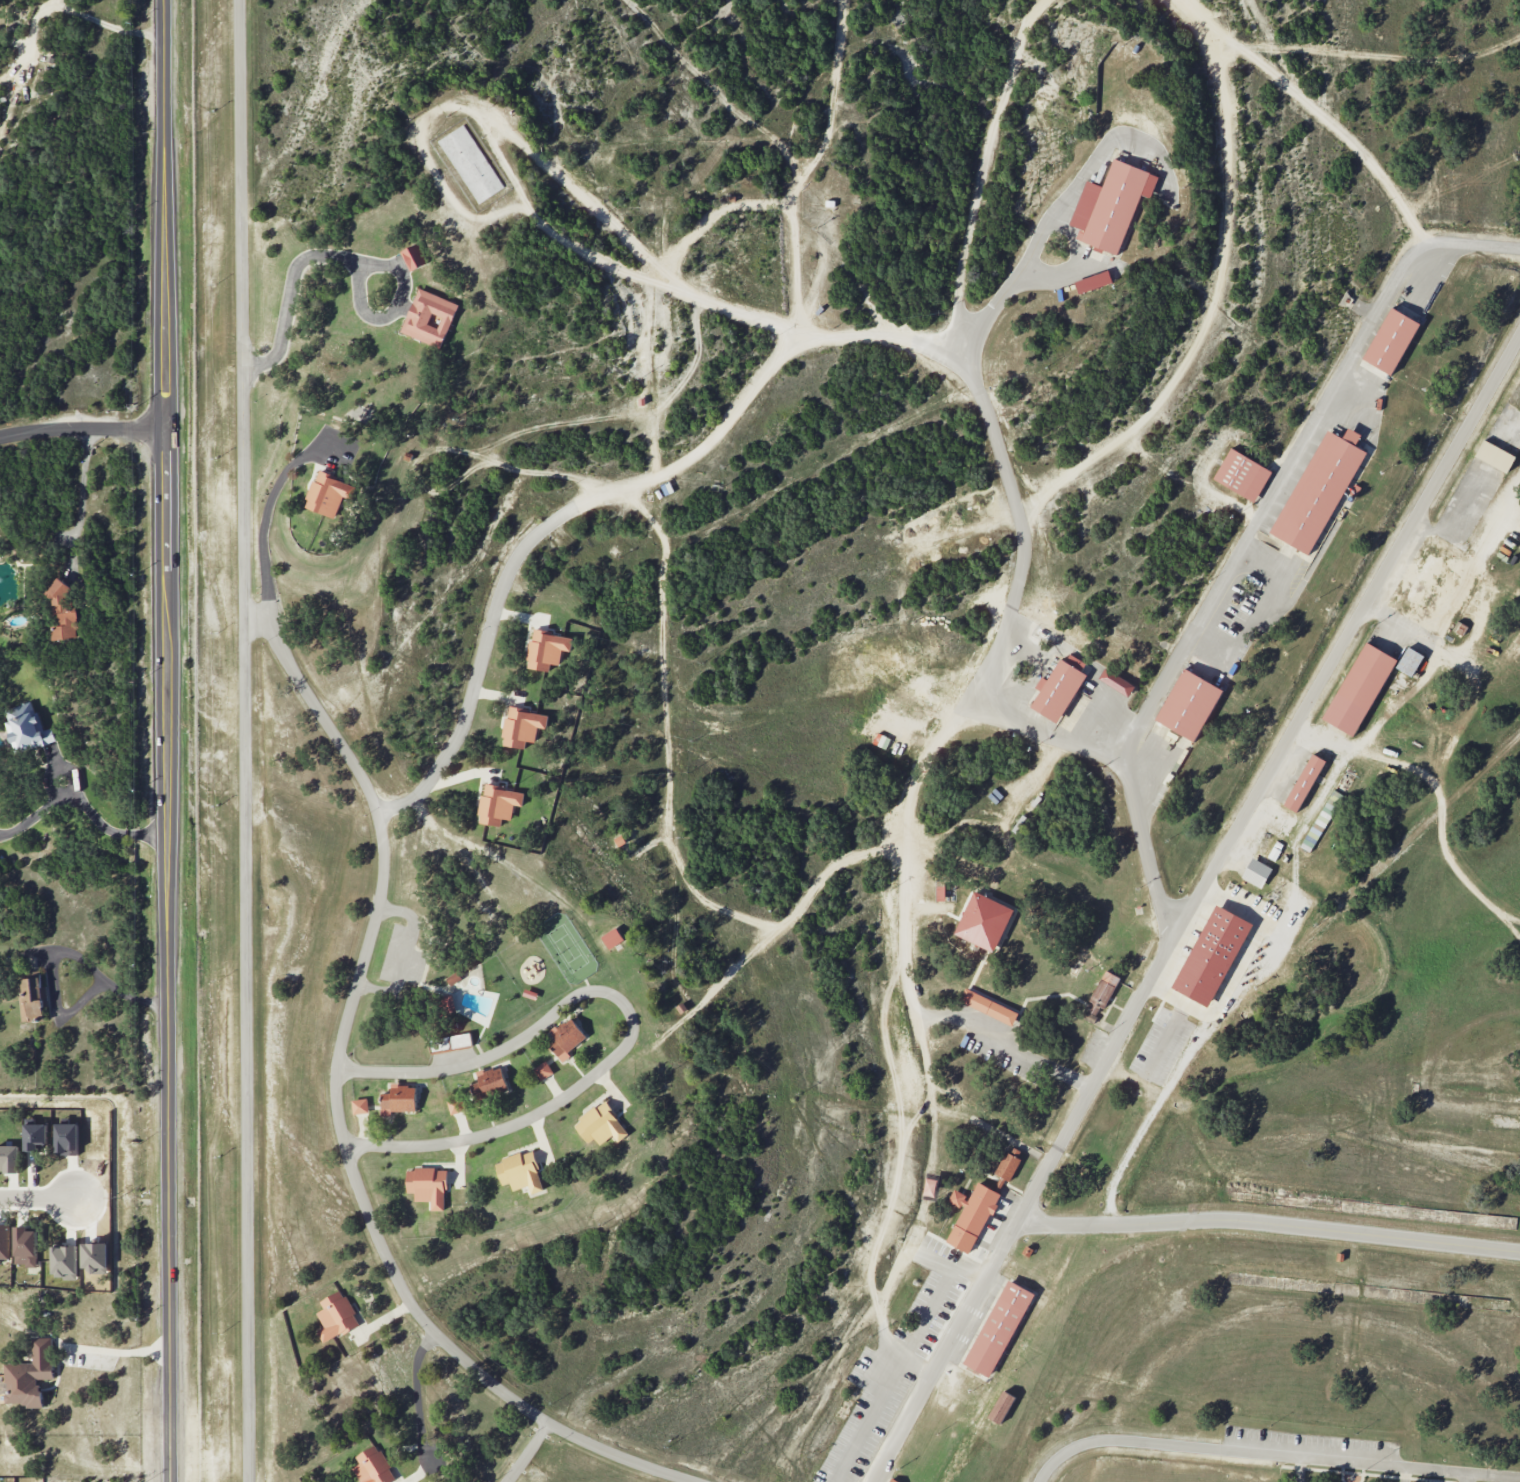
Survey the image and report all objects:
road: (71, 10)
road: (1373, 58)
road: (724, 99)
road: (1336, 124)
road: (408, 136)
road: (1101, 147)
road: (983, 174)
building: (1111, 206)
building: (414, 256)
road: (352, 258)
road: (822, 263)
road: (1071, 269)
building: (1093, 281)
road: (1006, 289)
road: (1218, 290)
road: (864, 295)
building: (429, 318)
building: (352, 337)
building: (1391, 341)
road: (784, 346)
road: (165, 415)
road: (82, 427)
building: (1495, 456)
building: (1242, 475)
building: (1319, 490)
building: (328, 494)
road: (82, 496)
road: (1462, 507)
road: (1019, 508)
road: (1249, 539)
road: (1449, 541)
road: (516, 555)
road: (1466, 600)
building: (63, 611)
building: (1459, 627)
building: (547, 649)
road: (268, 660)
building: (1409, 661)
building: (1116, 682)
building: (1059, 688)
building: (1359, 689)
building: (1189, 704)
building: (522, 726)
building: (27, 728)
road: (250, 740)
building: (1304, 782)
road: (81, 803)
building: (498, 804)
building: (1321, 820)
building: (1256, 872)
road: (1191, 909)
building: (984, 921)
road: (765, 934)
building: (612, 938)
road: (60, 950)
building: (1212, 955)
road: (276, 974)
building: (454, 978)
building: (1101, 995)
building: (31, 998)
building: (447, 1003)
building: (988, 1006)
road: (916, 1015)
road: (347, 1021)
road: (630, 1022)
building: (566, 1038)
building: (450, 1042)
building: (543, 1070)
building: (489, 1084)
building: (399, 1099)
building: (455, 1105)
building: (360, 1106)
building: (600, 1124)
building: (36, 1137)
building: (66, 1139)
road: (168, 1156)
building: (9, 1158)
building: (1009, 1163)
building: (520, 1171)
building: (428, 1186)
road: (39, 1198)
building: (971, 1216)
road: (1269, 1224)
building: (4, 1241)
building: (25, 1246)
building: (65, 1261)
building: (336, 1316)
building: (998, 1328)
road: (115, 1350)
building: (28, 1376)
building: (1001, 1407)
road: (525, 1452)
road: (1273, 1452)
building: (373, 1466)
road: (1302, 1468)
road: (1412, 1475)
road: (1469, 1478)
building: (892, 1480)

